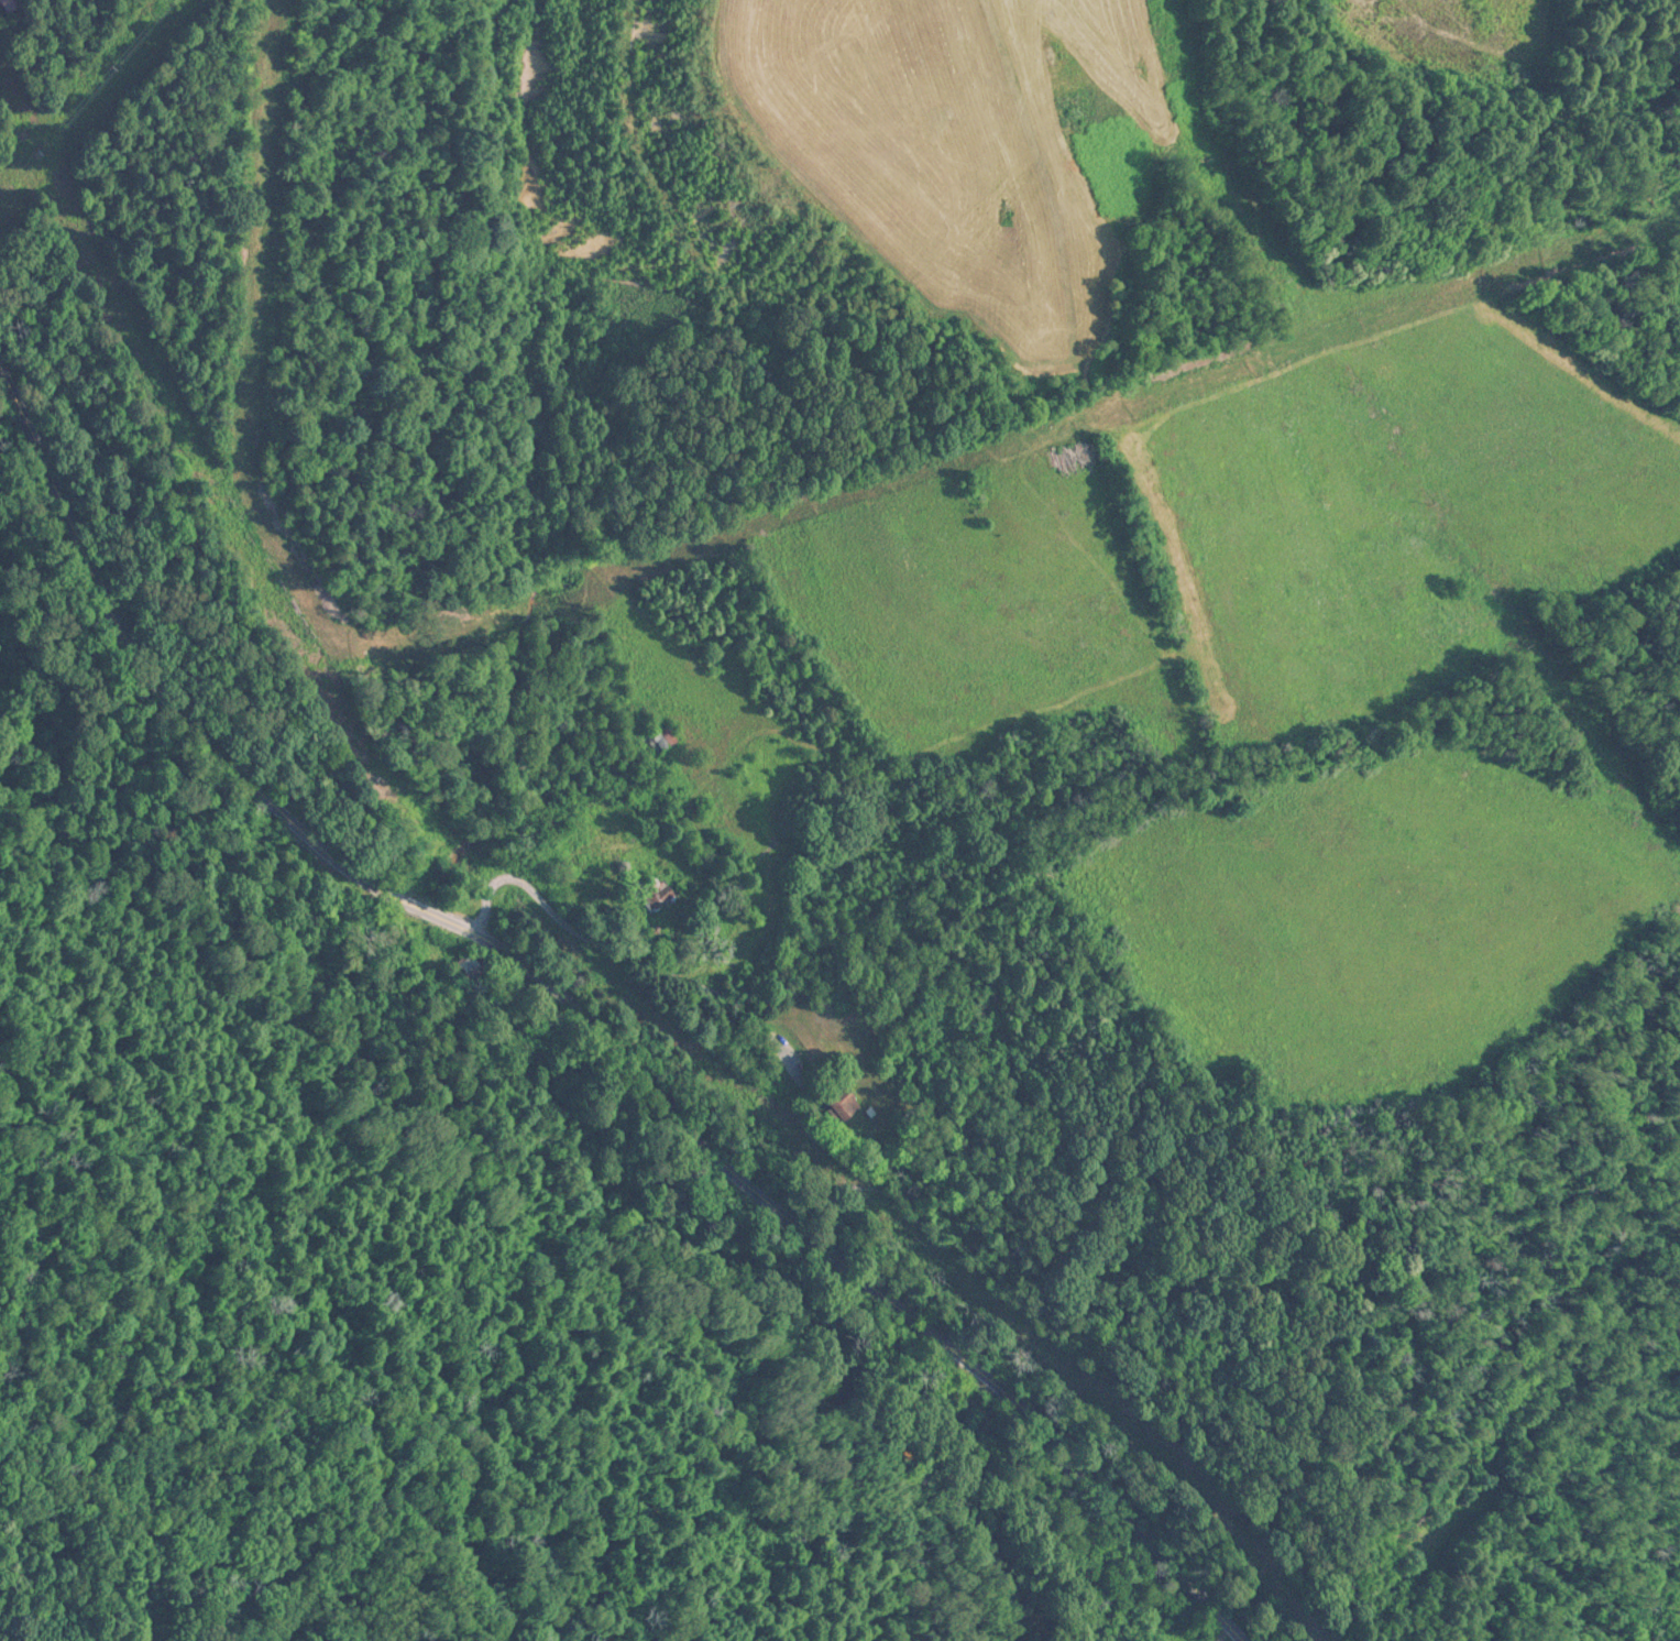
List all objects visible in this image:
building: (11, 6)
building: (662, 742)
road: (635, 938)
building: (469, 965)
road: (581, 1025)
building: (845, 1105)

